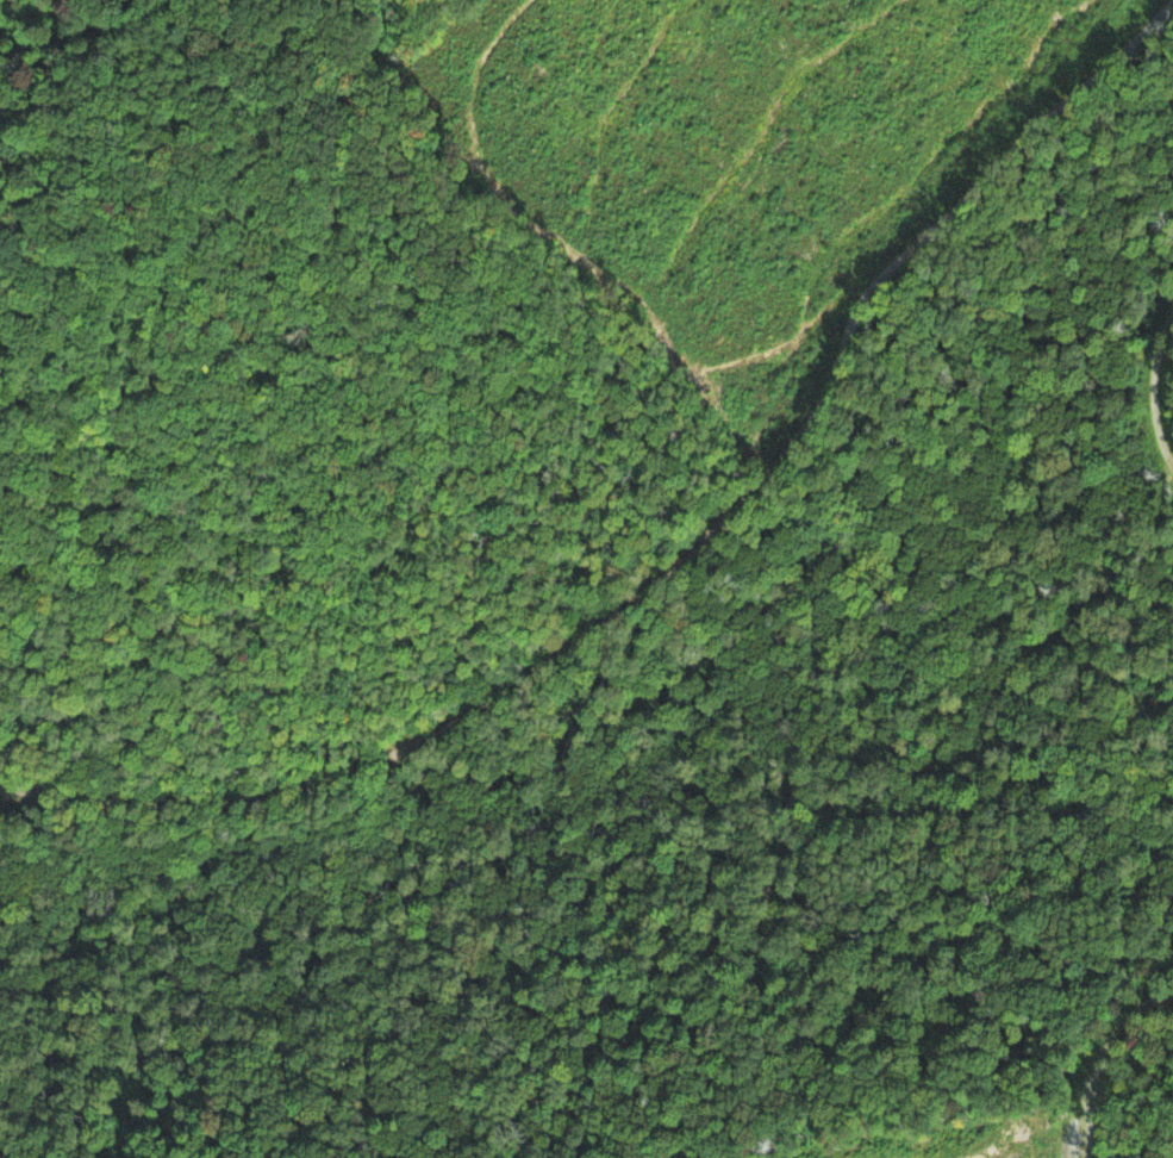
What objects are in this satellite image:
road: (1165, 417)
road: (681, 558)
road: (1119, 1083)

